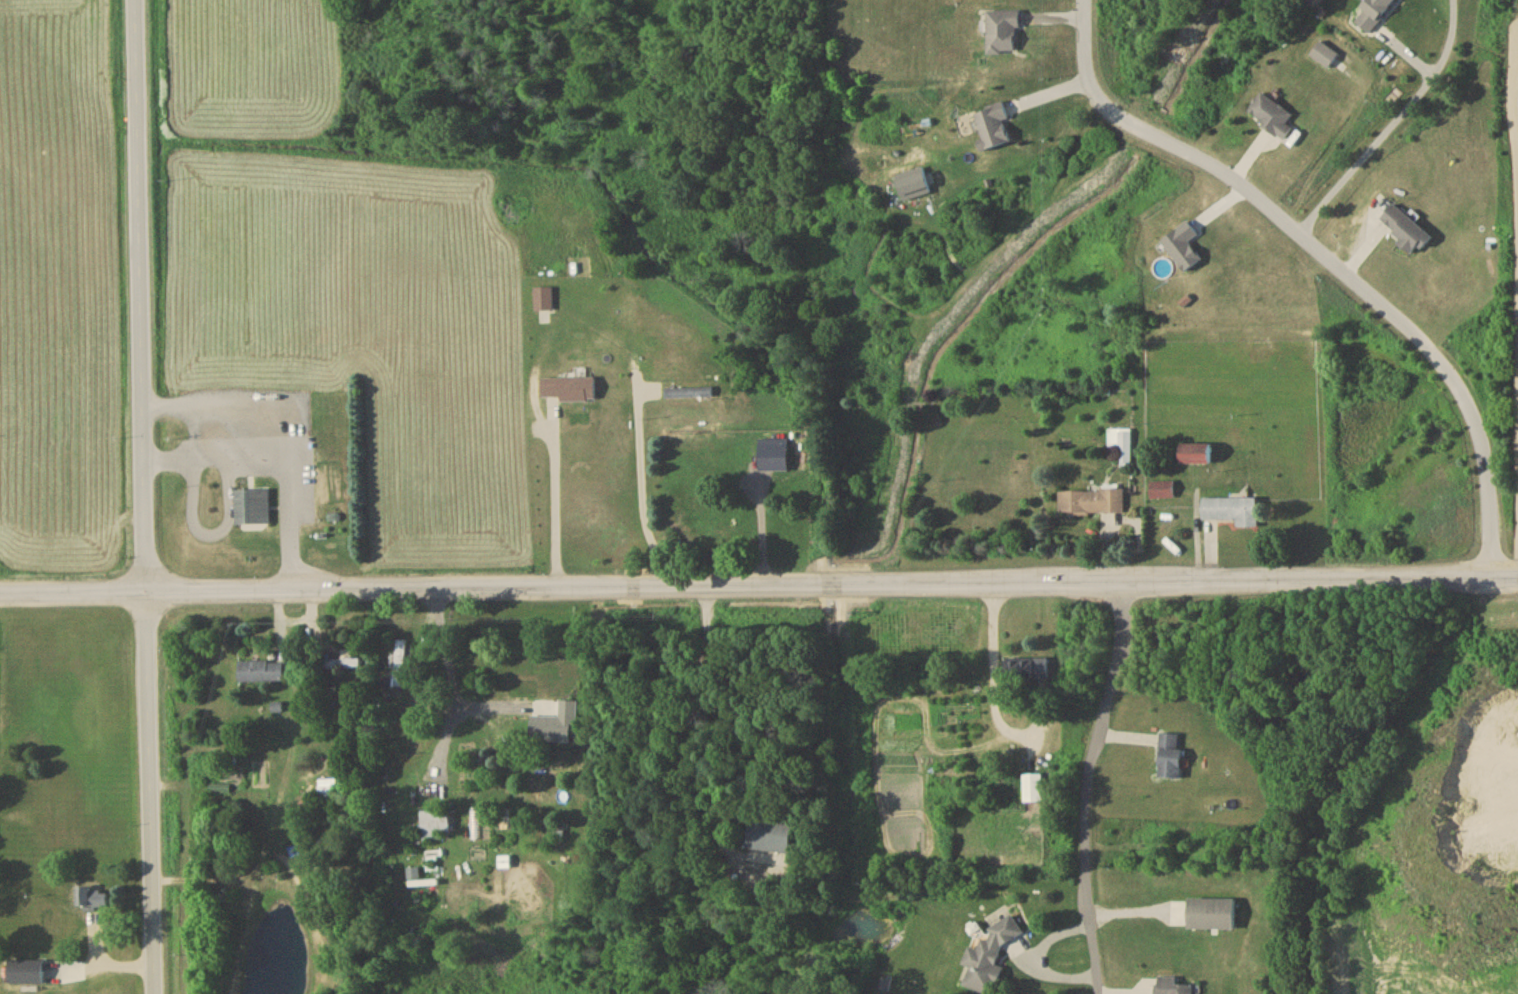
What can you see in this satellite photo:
building: (1373, 15)
building: (1001, 35)
building: (1325, 57)
road: (1517, 96)
building: (1272, 118)
road: (1392, 126)
building: (992, 129)
building: (912, 186)
building: (1406, 232)
road: (1326, 260)
building: (543, 302)
building: (568, 392)
road: (227, 411)
building: (1121, 448)
road: (285, 453)
building: (1195, 456)
building: (740, 471)
road: (642, 490)
building: (250, 492)
building: (1163, 492)
road: (143, 497)
road: (555, 503)
building: (1092, 505)
building: (252, 509)
building: (1232, 513)
road: (758, 587)
building: (344, 664)
building: (398, 665)
building: (1026, 672)
building: (261, 674)
road: (995, 675)
road: (452, 676)
road: (705, 735)
building: (1170, 757)
building: (541, 768)
road: (1086, 787)
building: (219, 791)
building: (1032, 791)
building: (434, 827)
building: (475, 827)
building: (771, 836)
building: (92, 901)
building: (1211, 918)
building: (989, 960)
building: (25, 975)
building: (1170, 988)

